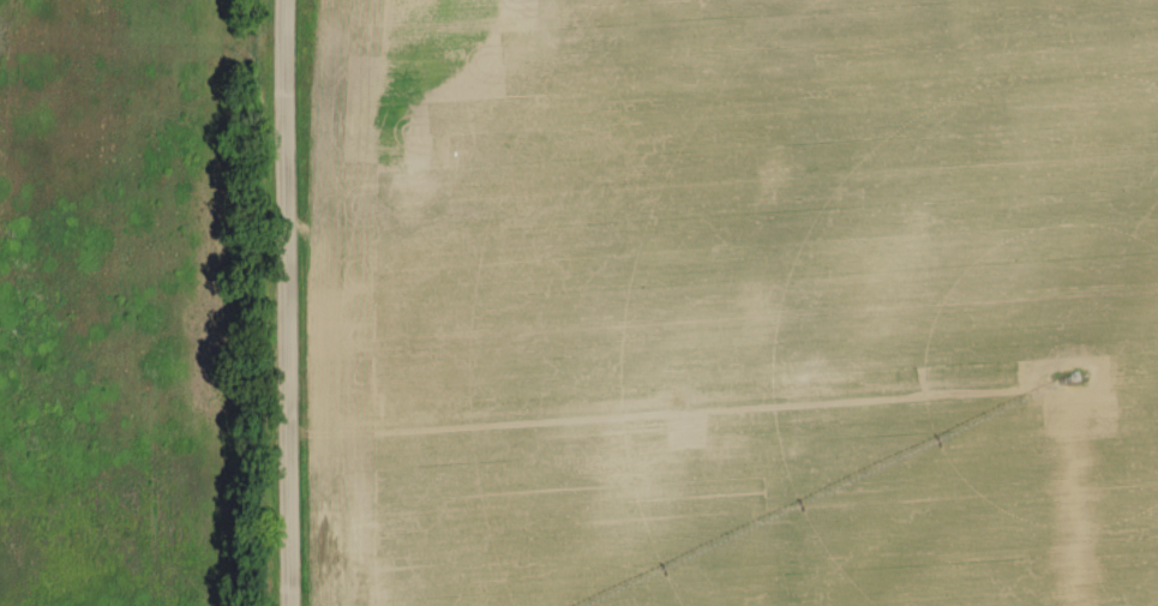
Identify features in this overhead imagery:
road: (298, 302)

